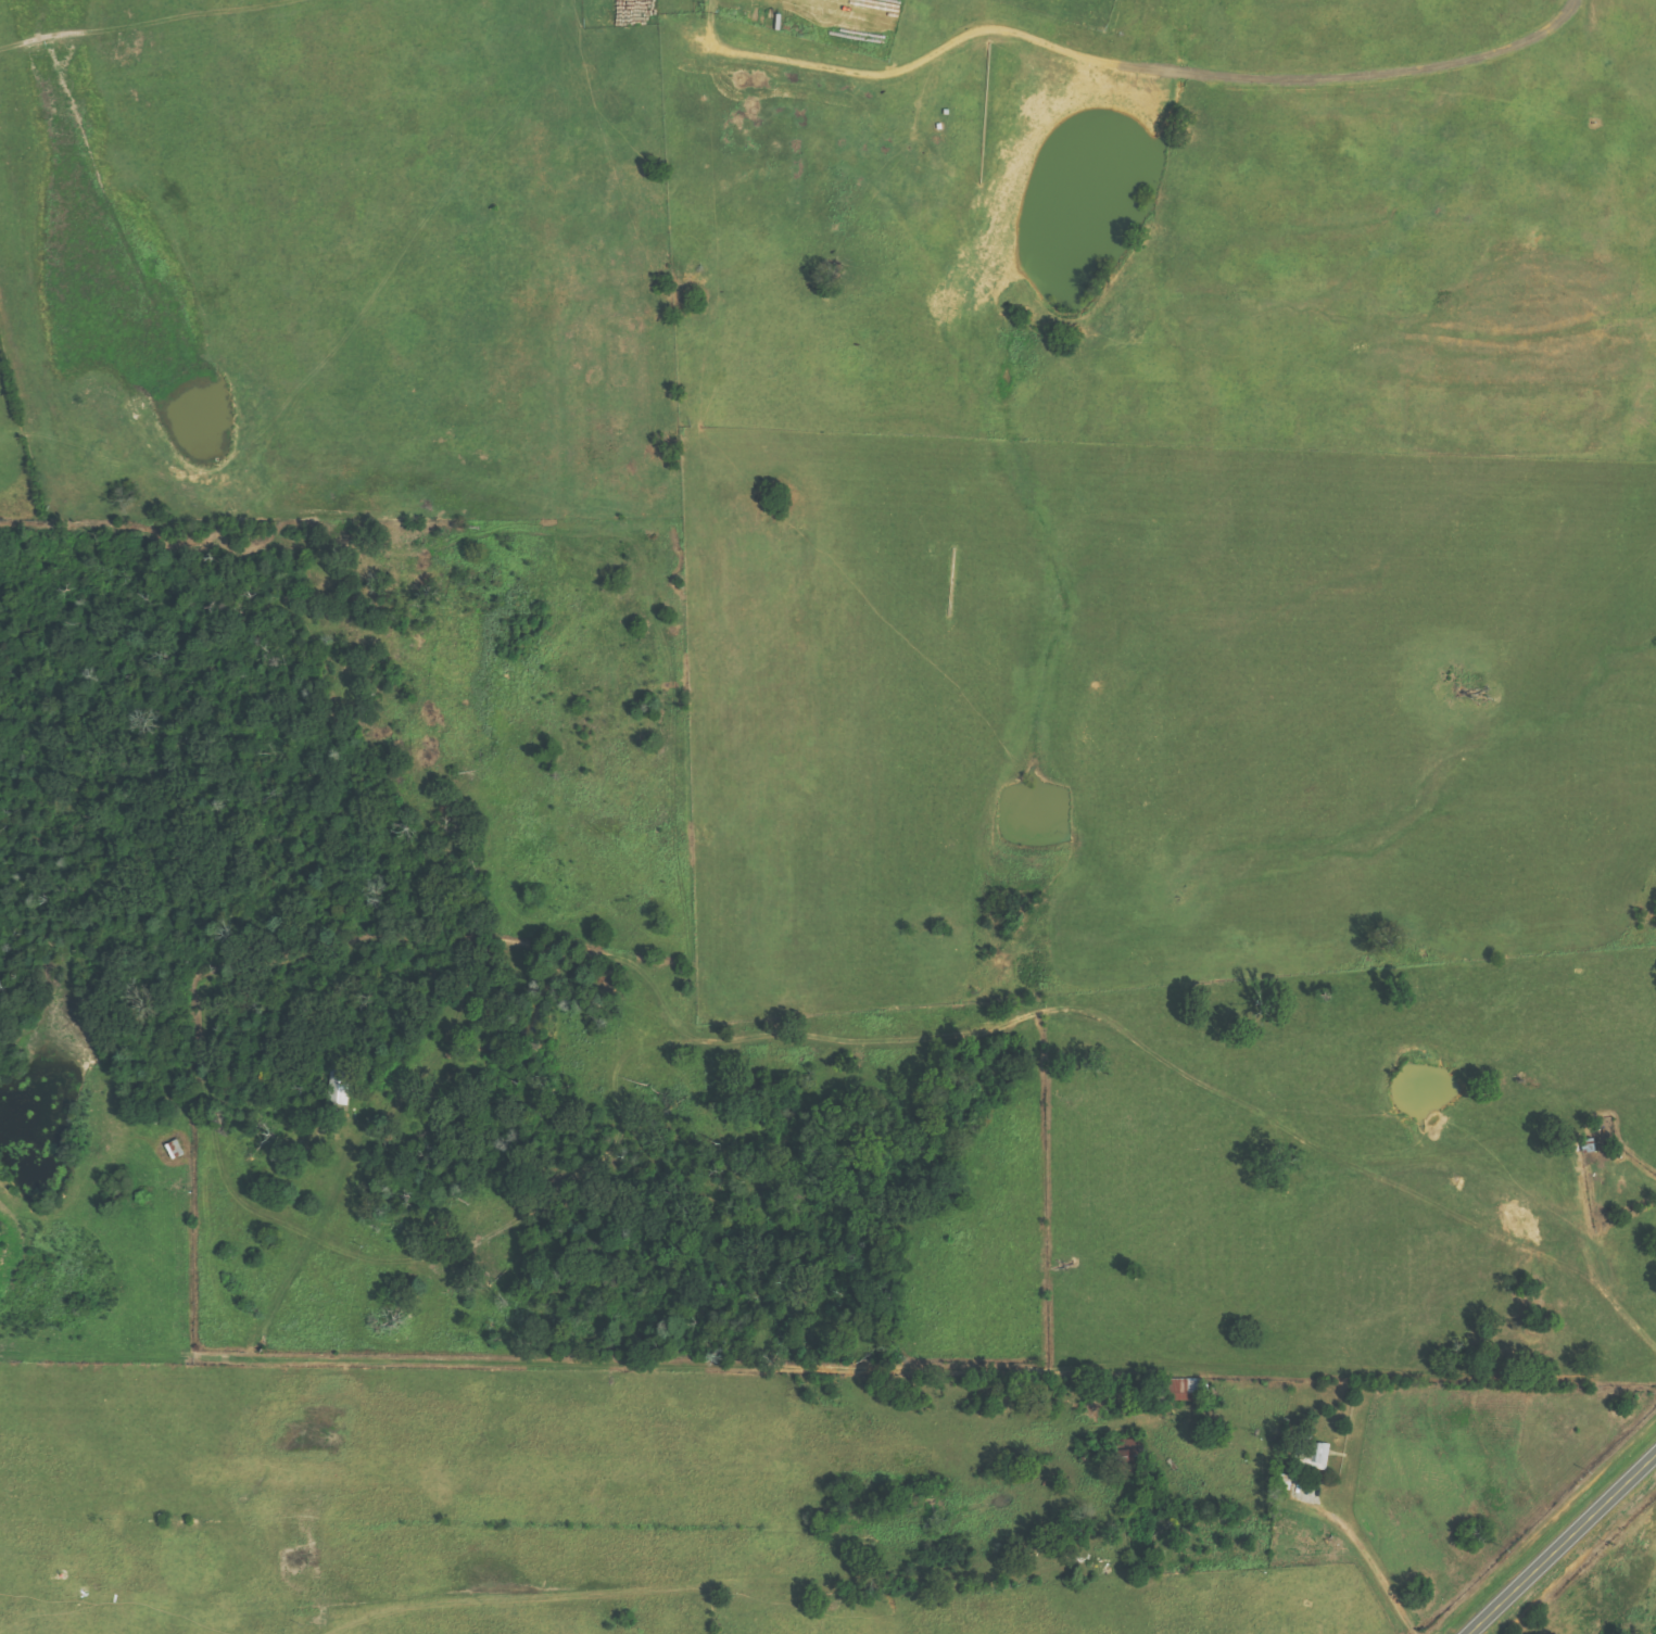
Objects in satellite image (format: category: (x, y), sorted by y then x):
road: (274, 193)
building: (1186, 1389)
building: (1311, 1454)
road: (1158, 1540)
road: (1564, 1545)

